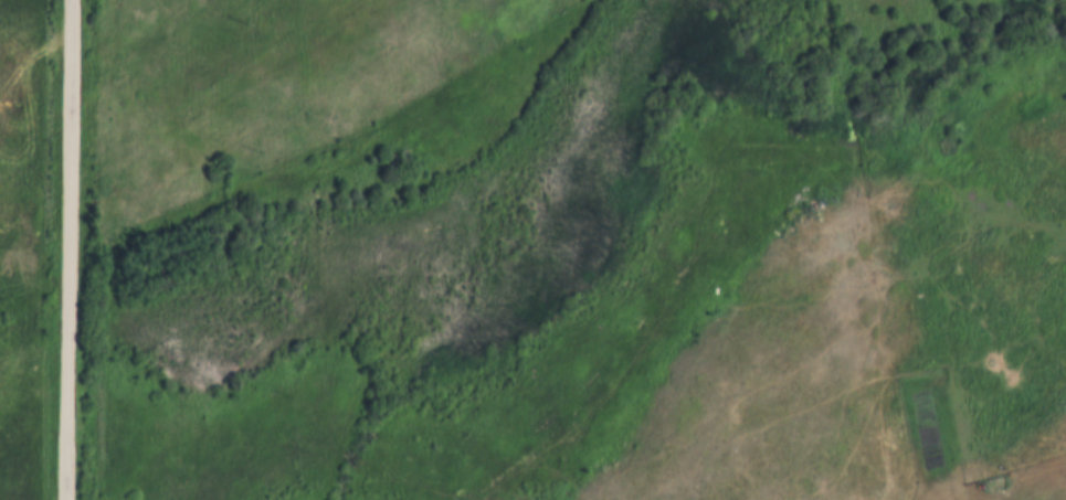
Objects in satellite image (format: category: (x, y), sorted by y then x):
road: (70, 249)

